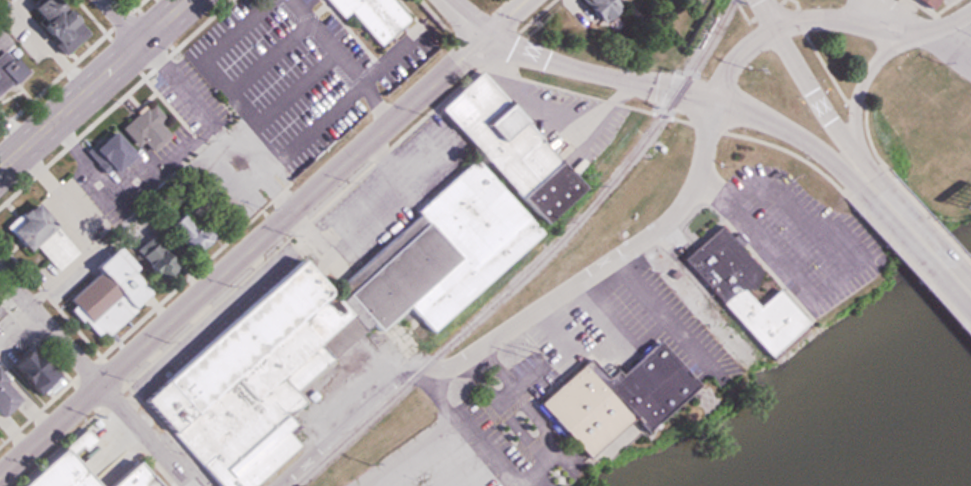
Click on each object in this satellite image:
building: (920, 2)
building: (591, 8)
building: (369, 16)
building: (44, 22)
road: (925, 32)
building: (8, 68)
road: (865, 78)
road: (96, 85)
road: (667, 90)
road: (820, 100)
building: (143, 128)
road: (222, 137)
building: (508, 149)
building: (106, 152)
building: (185, 231)
building: (36, 235)
road: (263, 237)
road: (645, 237)
road: (925, 253)
building: (151, 257)
railway: (535, 263)
road: (825, 277)
building: (736, 291)
building: (104, 293)
road: (362, 296)
road: (598, 317)
building: (324, 326)
road: (554, 331)
road: (399, 338)
building: (24, 370)
road: (94, 378)
building: (610, 396)
building: (2, 398)
road: (504, 410)
building: (64, 474)
building: (136, 479)
road: (526, 479)
river: (965, 482)

